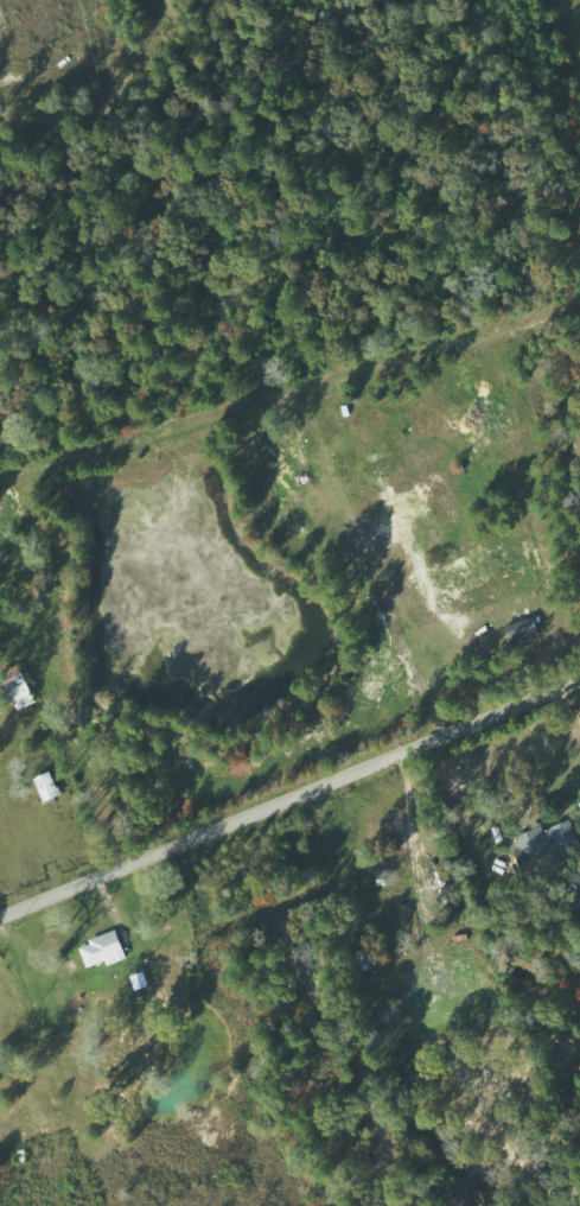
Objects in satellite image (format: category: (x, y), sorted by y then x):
building: (524, 629)
building: (50, 786)
road: (289, 798)
building: (548, 843)
building: (575, 875)
building: (375, 900)
building: (106, 950)

